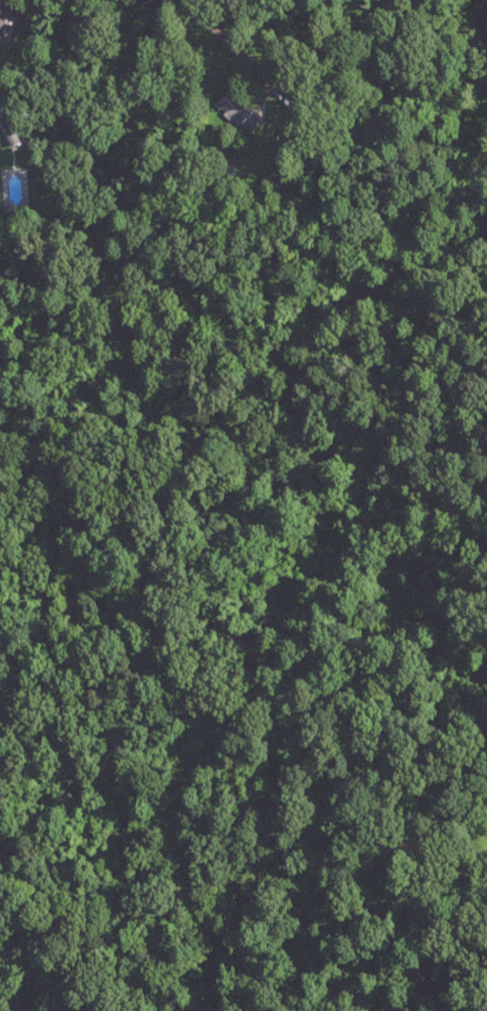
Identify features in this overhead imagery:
building: (3, 21)
building: (233, 108)

